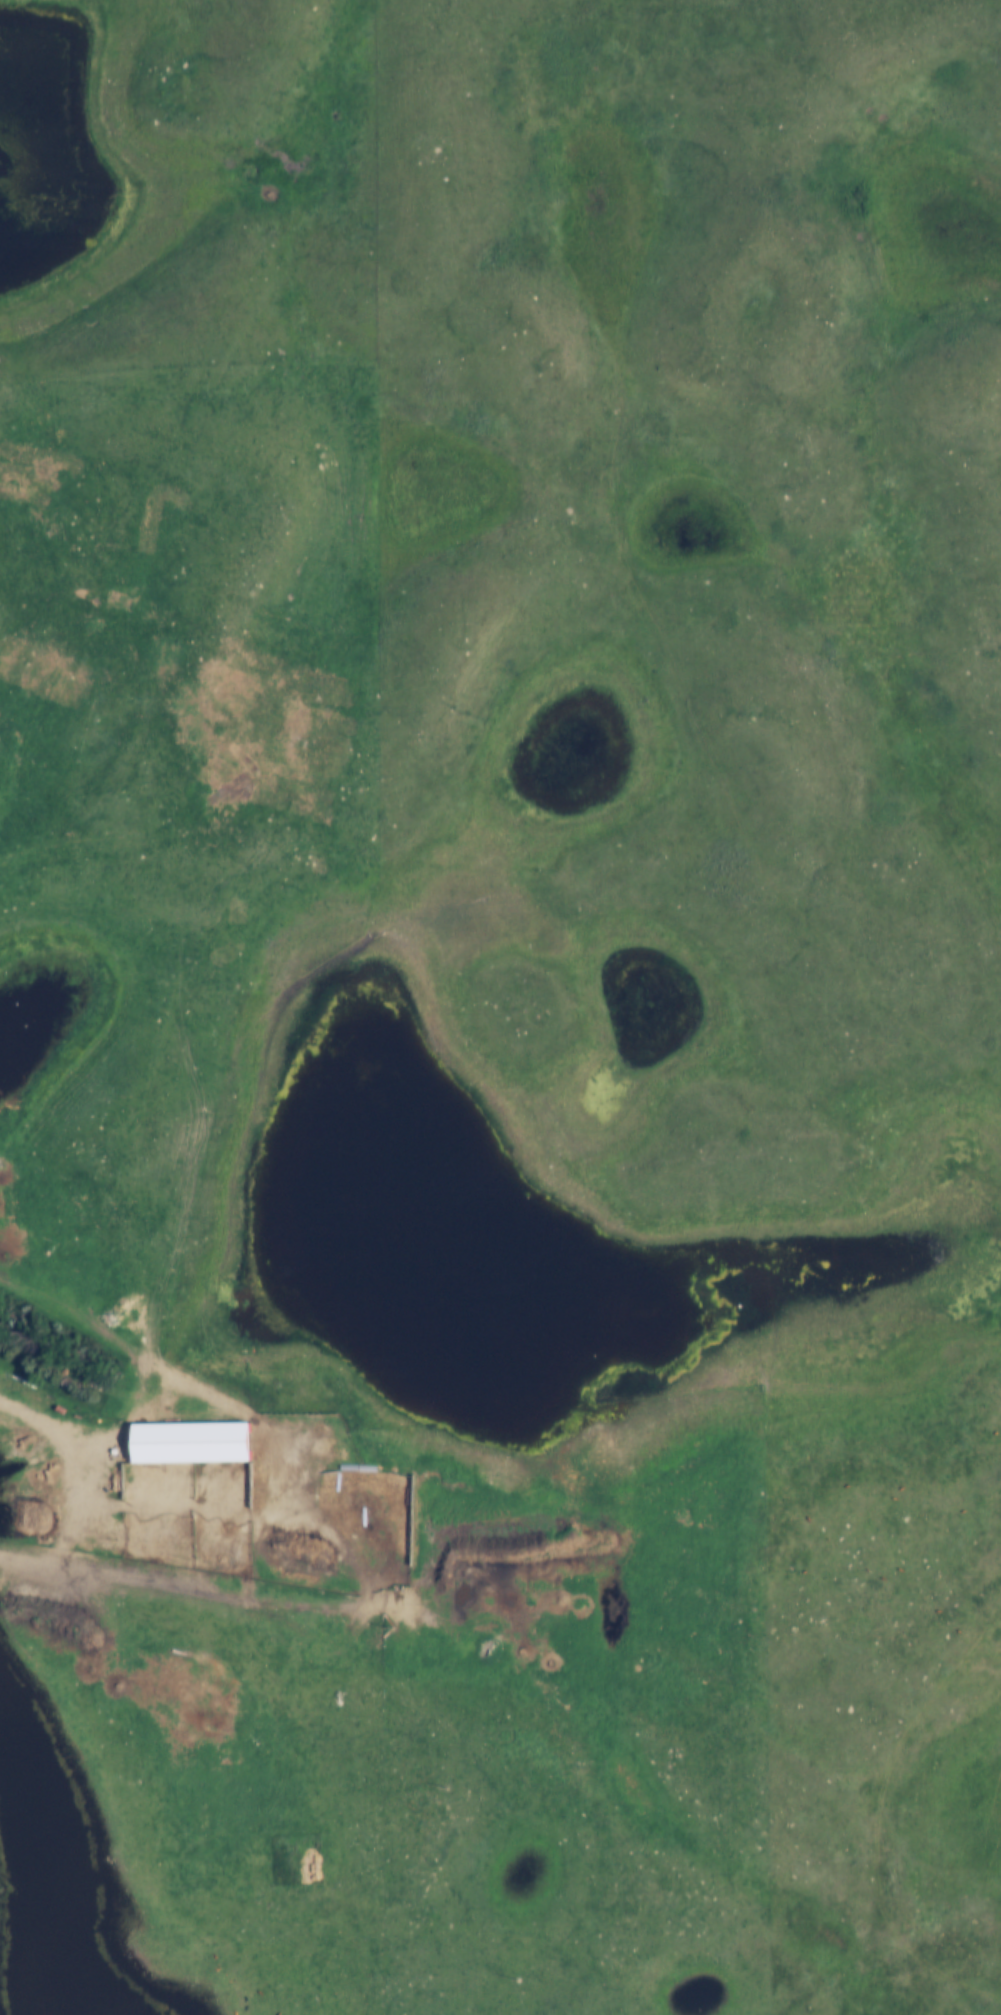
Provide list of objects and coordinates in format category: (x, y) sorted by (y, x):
building: (190, 1441)
road: (60, 1494)

